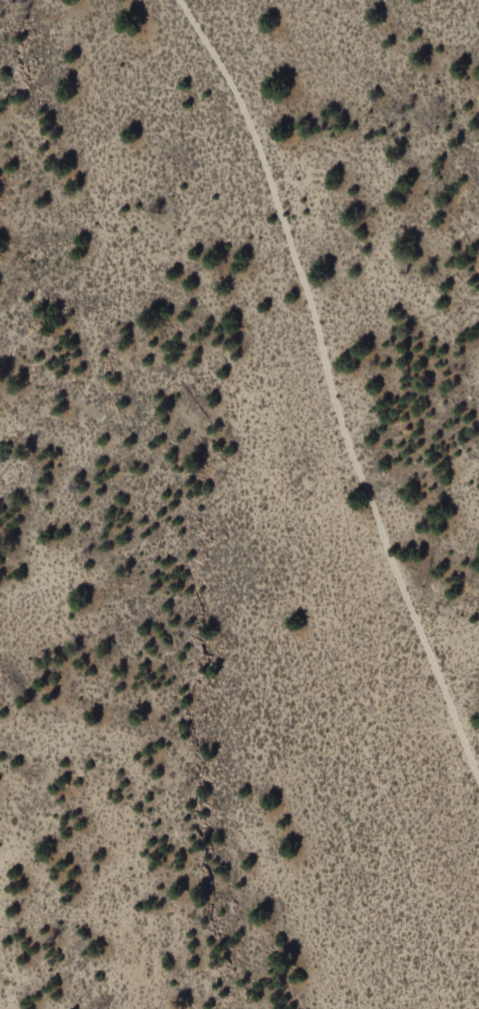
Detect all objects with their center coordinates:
road: (333, 382)

